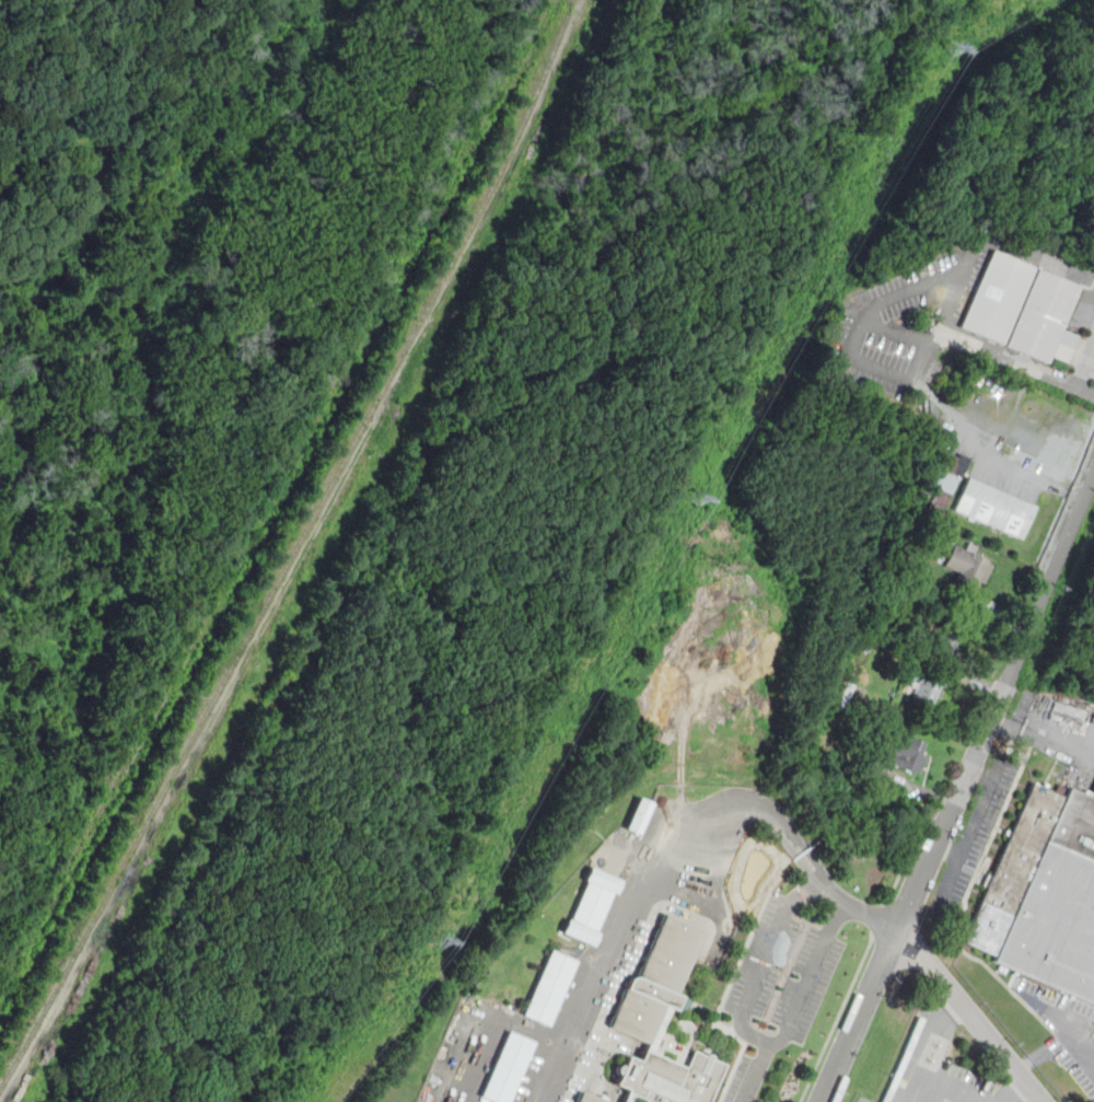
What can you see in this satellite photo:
power tower: (952, 48)
road: (924, 280)
road: (950, 303)
building: (1025, 309)
road: (898, 334)
road: (1086, 368)
road: (920, 380)
building: (945, 480)
power tower: (695, 498)
road: (1067, 508)
building: (997, 509)
railway: (299, 550)
building: (974, 569)
building: (951, 637)
building: (910, 653)
building: (926, 687)
building: (845, 696)
road: (1043, 735)
building: (908, 754)
road: (958, 794)
building: (643, 816)
road: (979, 816)
road: (675, 847)
road: (907, 859)
road: (951, 884)
building: (1043, 895)
railway: (51, 905)
building: (590, 906)
road: (880, 921)
power tower: (440, 941)
building: (549, 987)
road: (975, 1014)
road: (836, 1020)
building: (662, 1022)
road: (753, 1035)
road: (931, 1036)
road: (1064, 1041)
road: (1026, 1064)
building: (508, 1067)
road: (757, 1072)
road: (935, 1089)
road: (1016, 1091)
building: (590, 1099)

